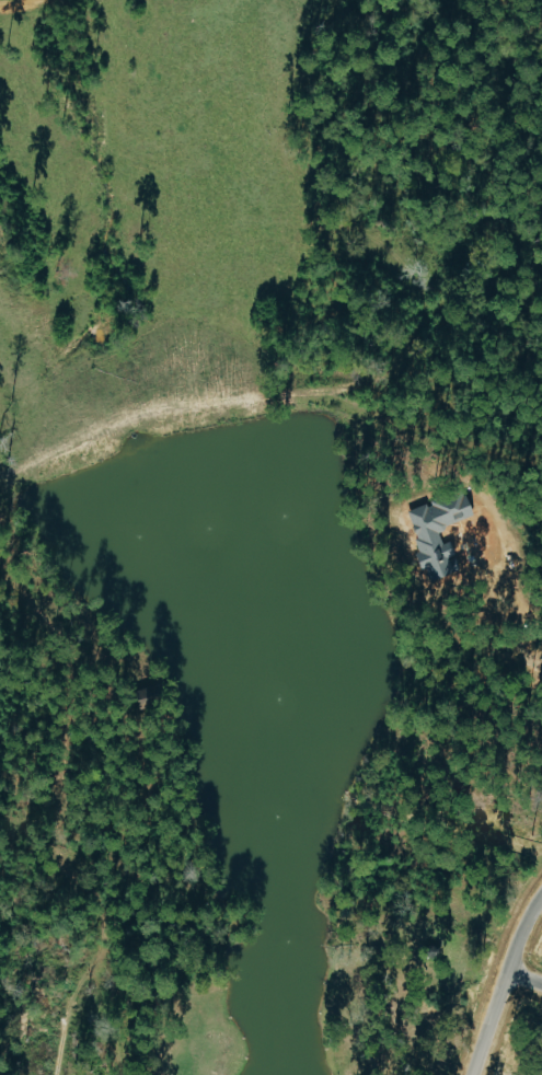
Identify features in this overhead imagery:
road: (16, 1)
road: (532, 963)
road: (510, 994)

